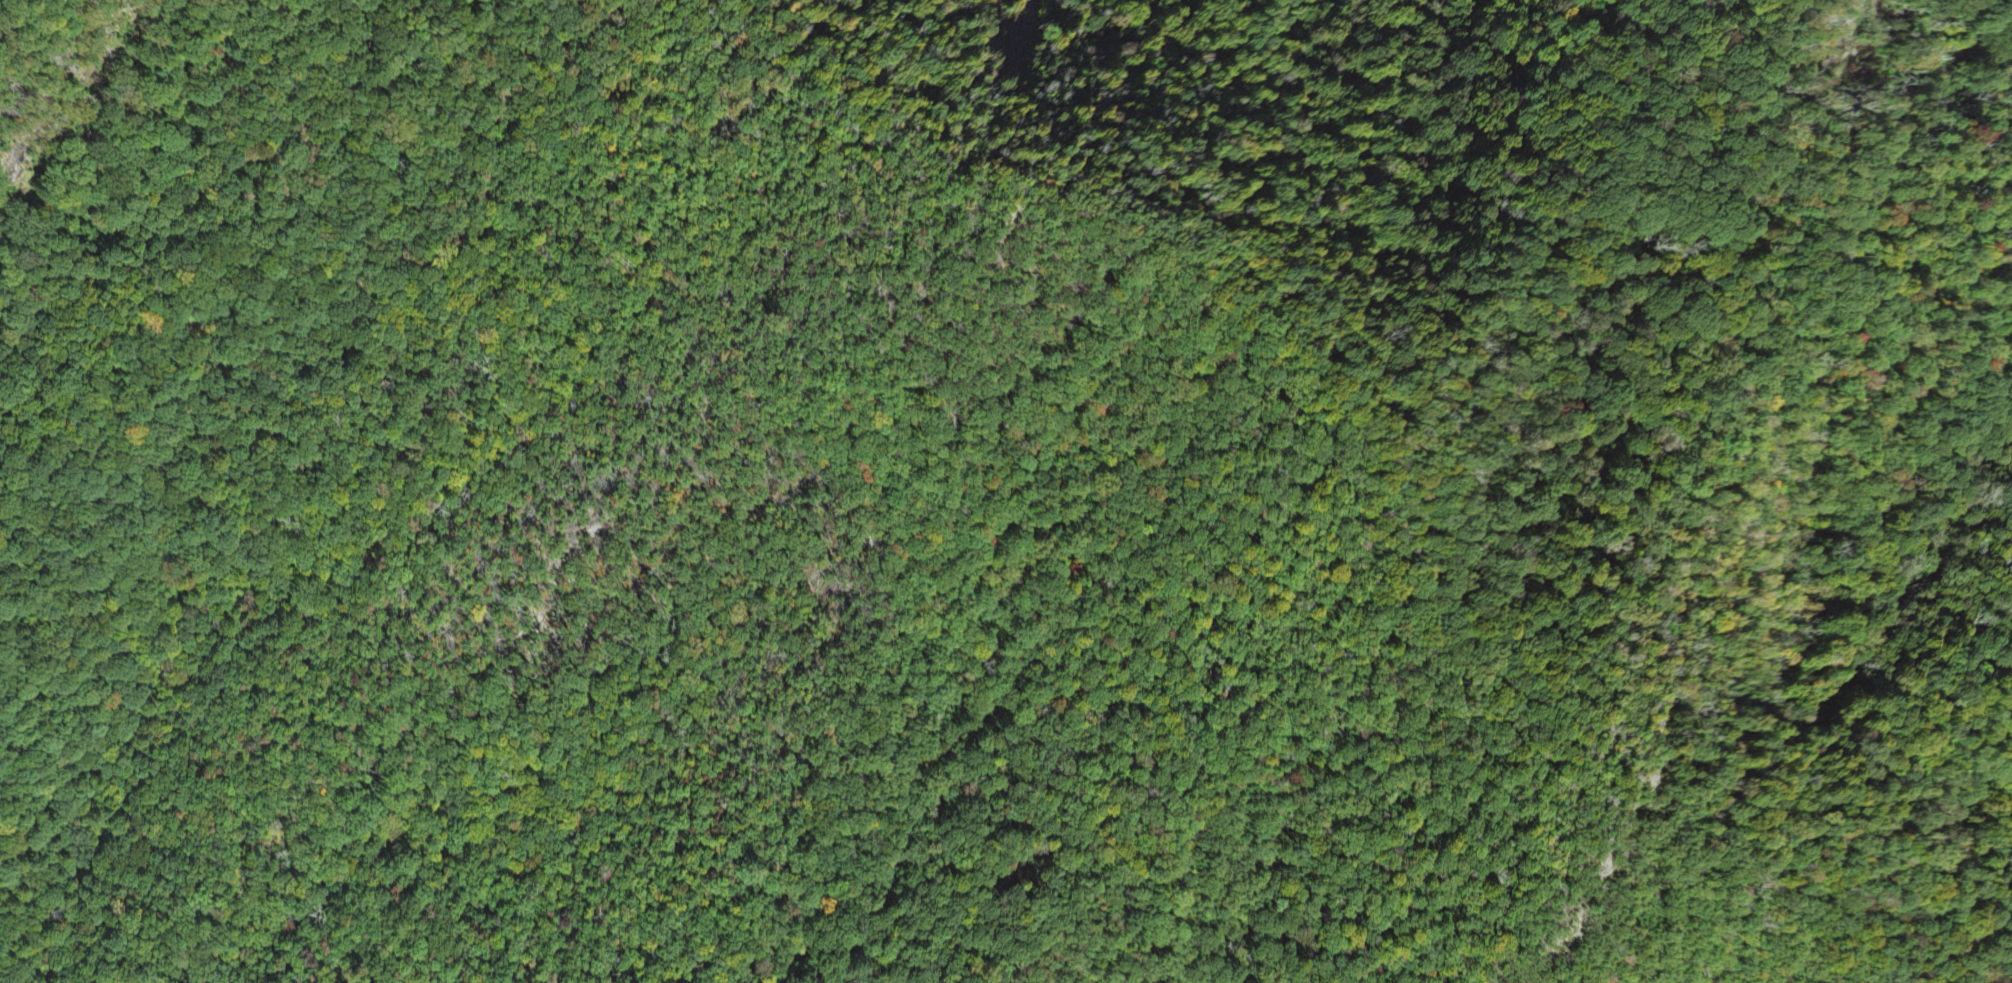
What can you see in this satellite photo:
road: (934, 531)

